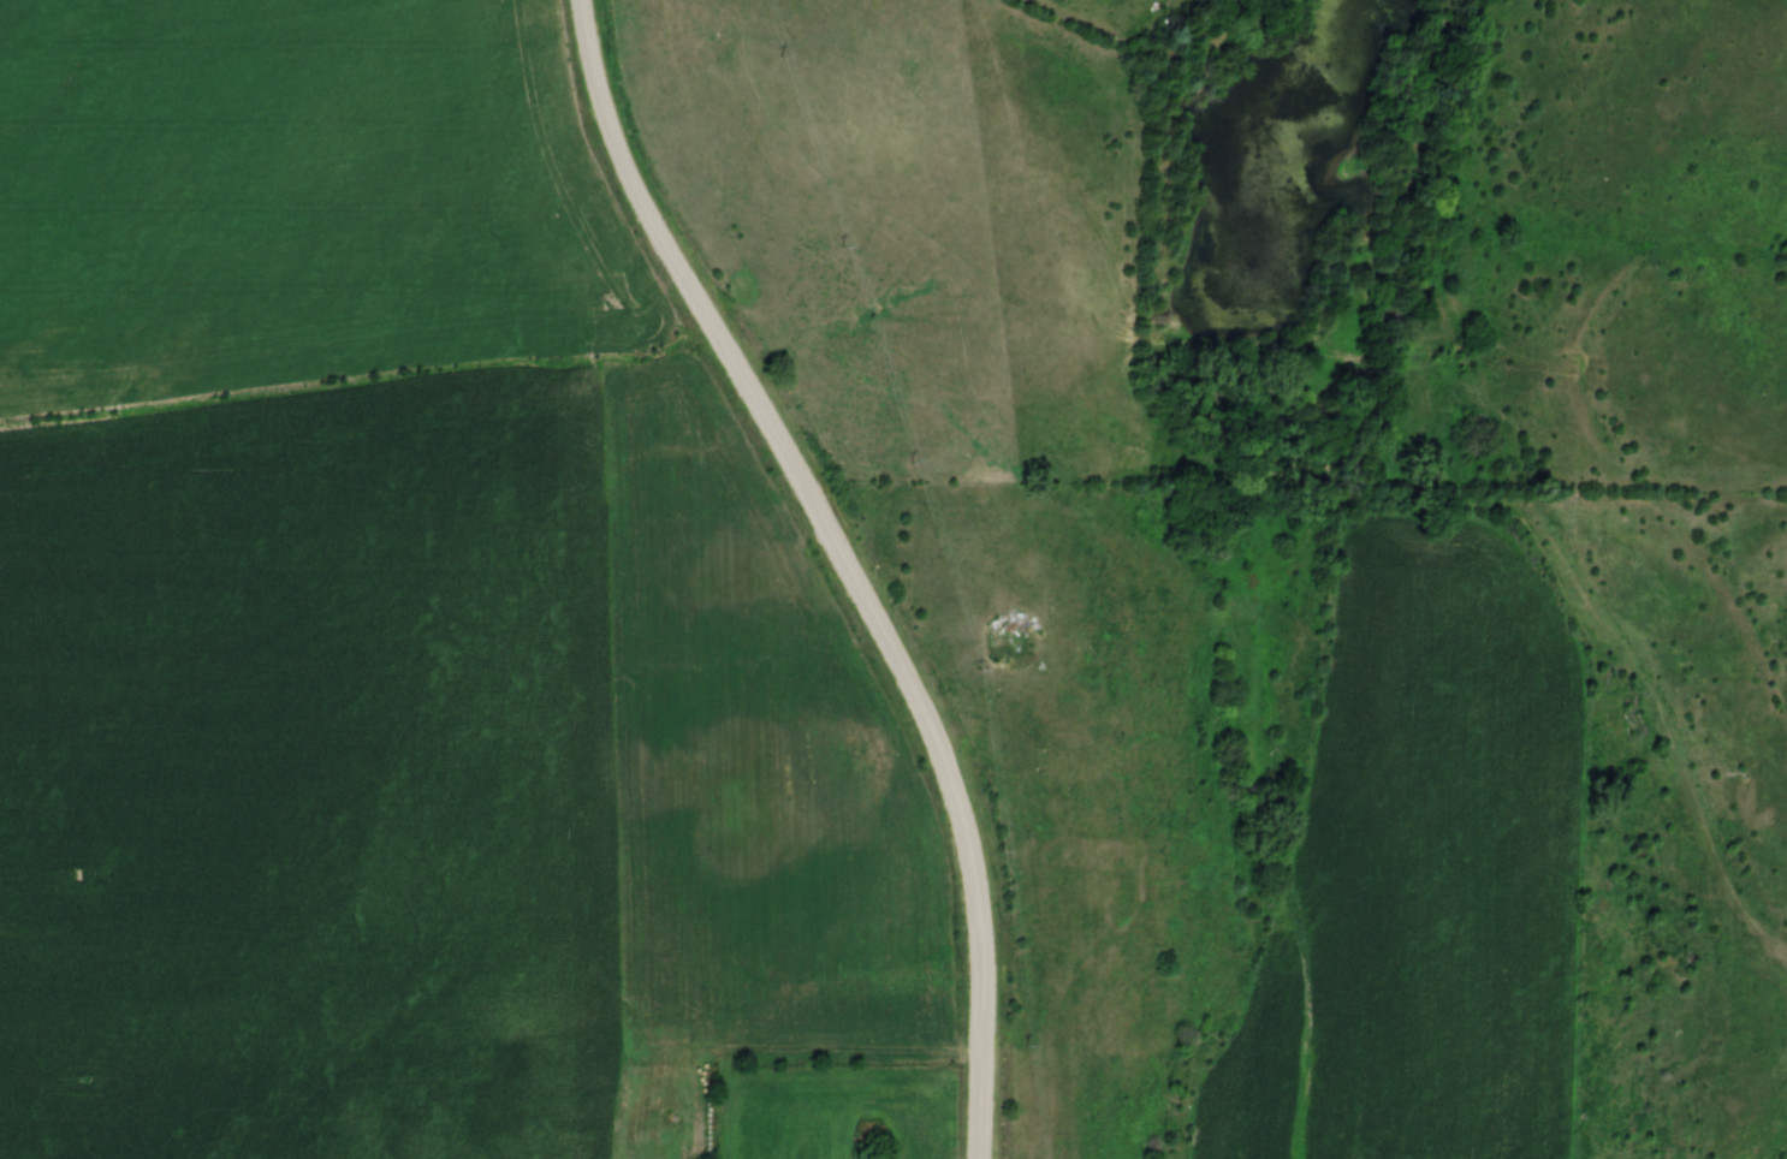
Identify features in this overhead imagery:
road: (841, 561)

